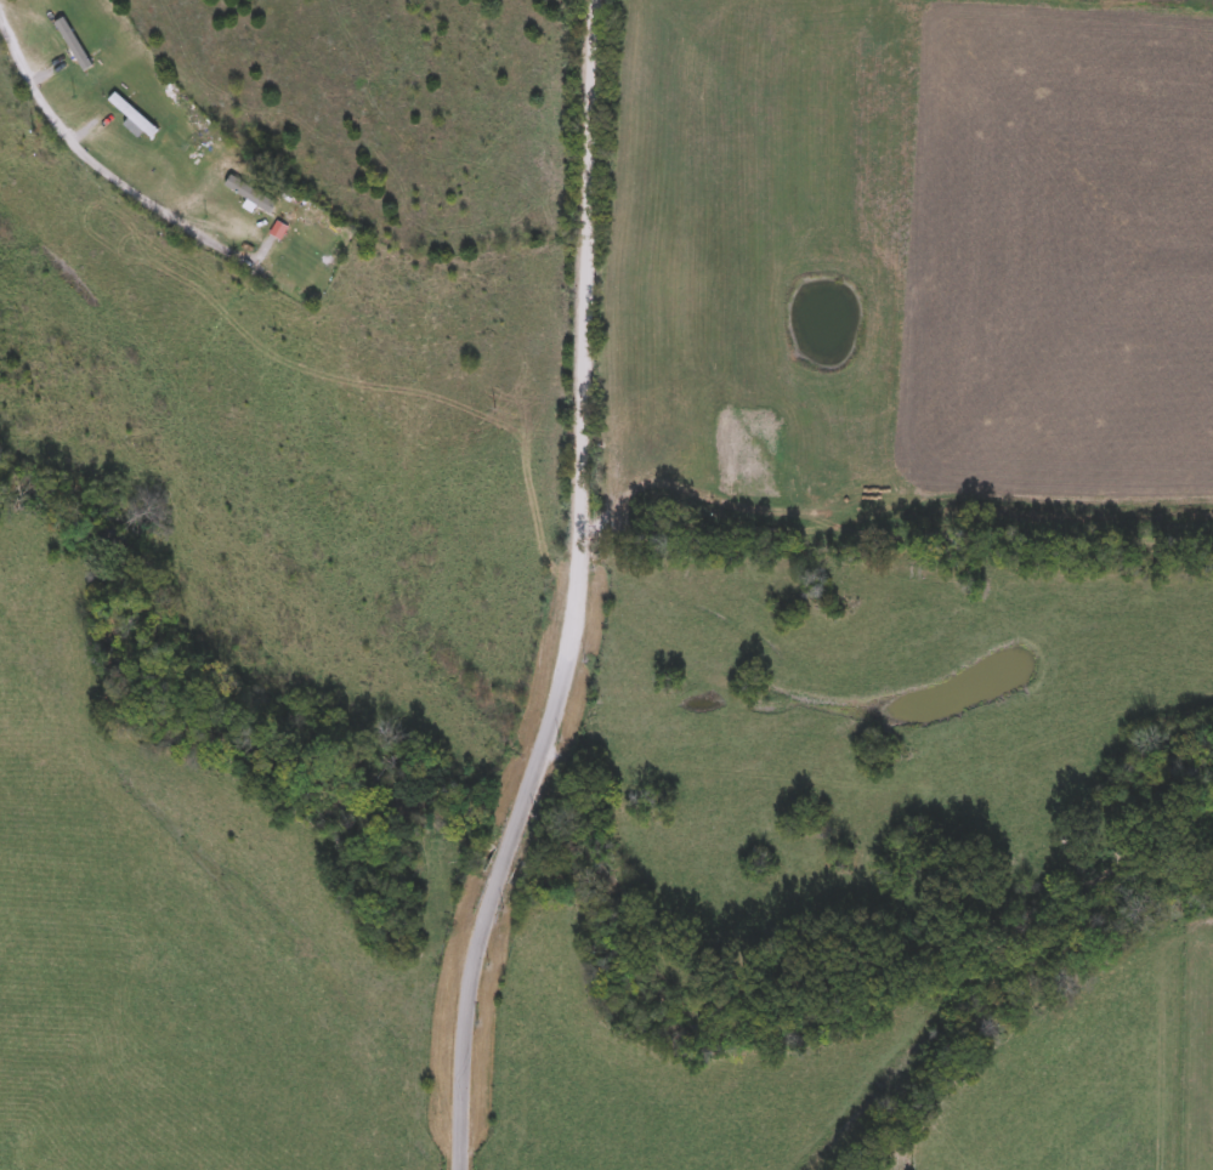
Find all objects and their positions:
building: (73, 46)
building: (132, 117)
road: (101, 167)
building: (249, 197)
road: (572, 592)

